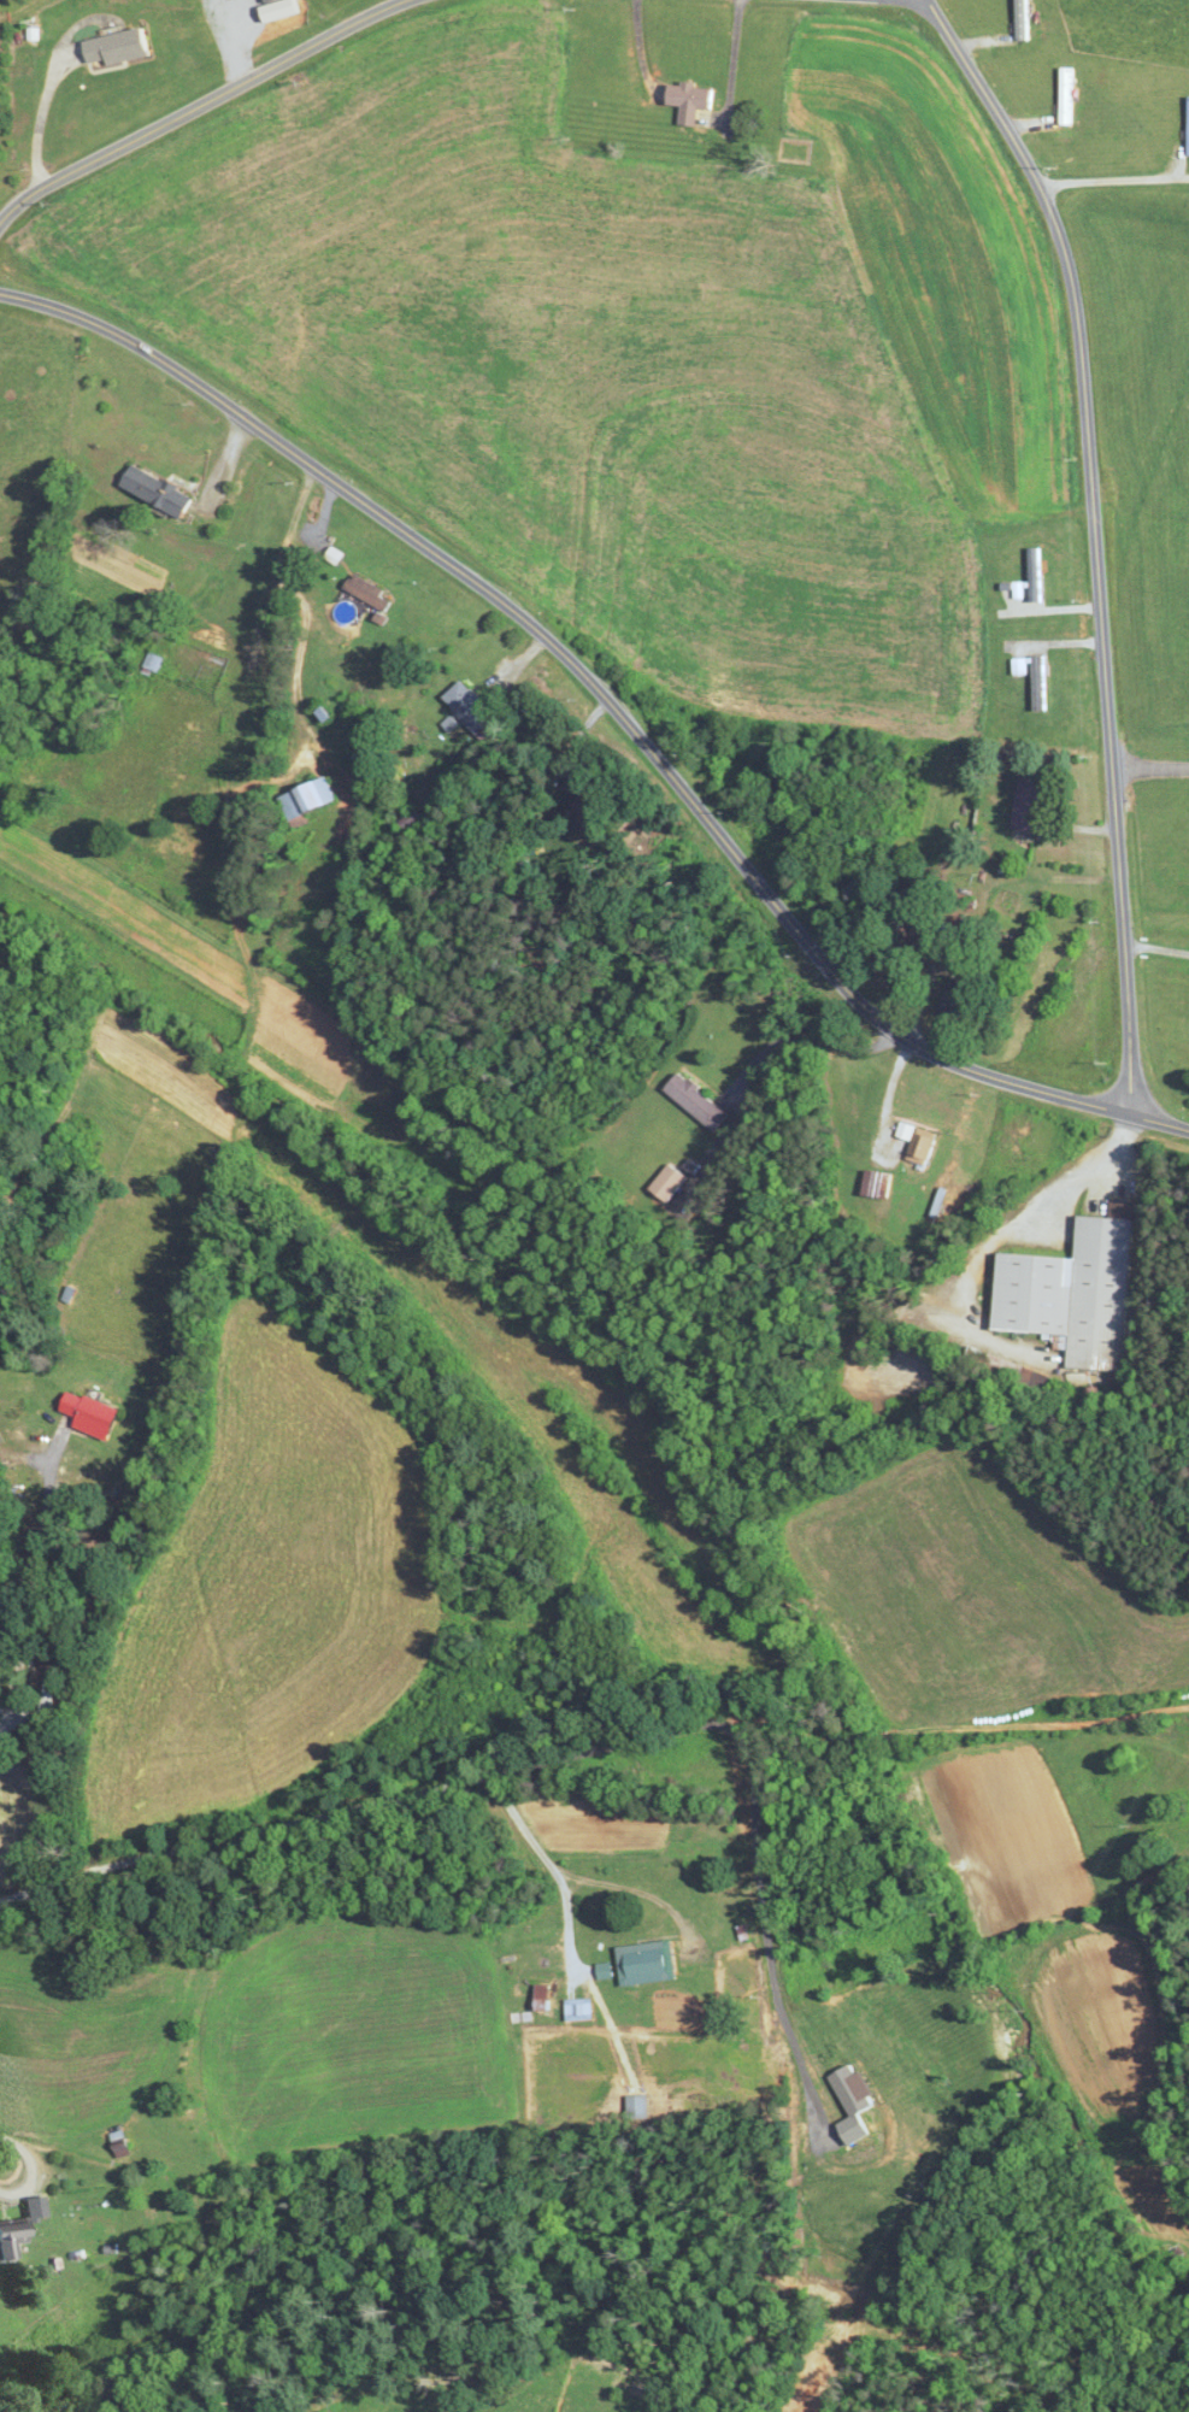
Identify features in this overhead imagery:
building: (120, 46)
building: (693, 100)
road: (199, 104)
road: (1113, 178)
building: (161, 492)
road: (1094, 539)
building: (376, 596)
building: (1038, 678)
road: (612, 705)
building: (471, 707)
road: (575, 745)
road: (1149, 765)
building: (1031, 801)
building: (305, 802)
building: (417, 820)
building: (891, 906)
road: (1156, 948)
building: (958, 1001)
road: (802, 1037)
building: (699, 1102)
building: (924, 1145)
road: (1082, 1175)
building: (671, 1183)
building: (881, 1184)
building: (1077, 1294)
building: (94, 1416)
road: (41, 1526)
road: (23, 1681)
building: (49, 1693)
road: (567, 1753)
road: (548, 1864)
road: (628, 1888)
building: (649, 1964)
building: (606, 1971)
building: (545, 1996)
building: (581, 2010)
road: (33, 2165)
building: (13, 2237)

